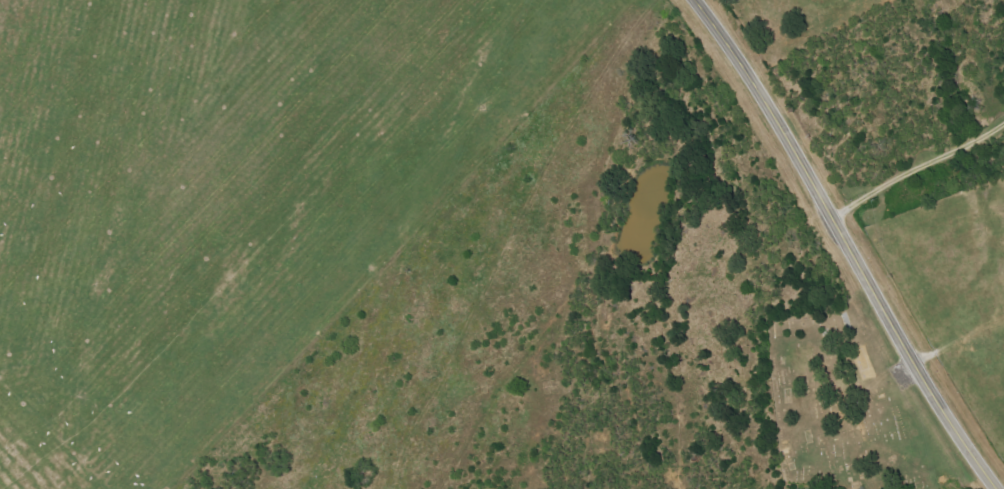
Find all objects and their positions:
road: (915, 166)
road: (845, 244)
park: (840, 410)

